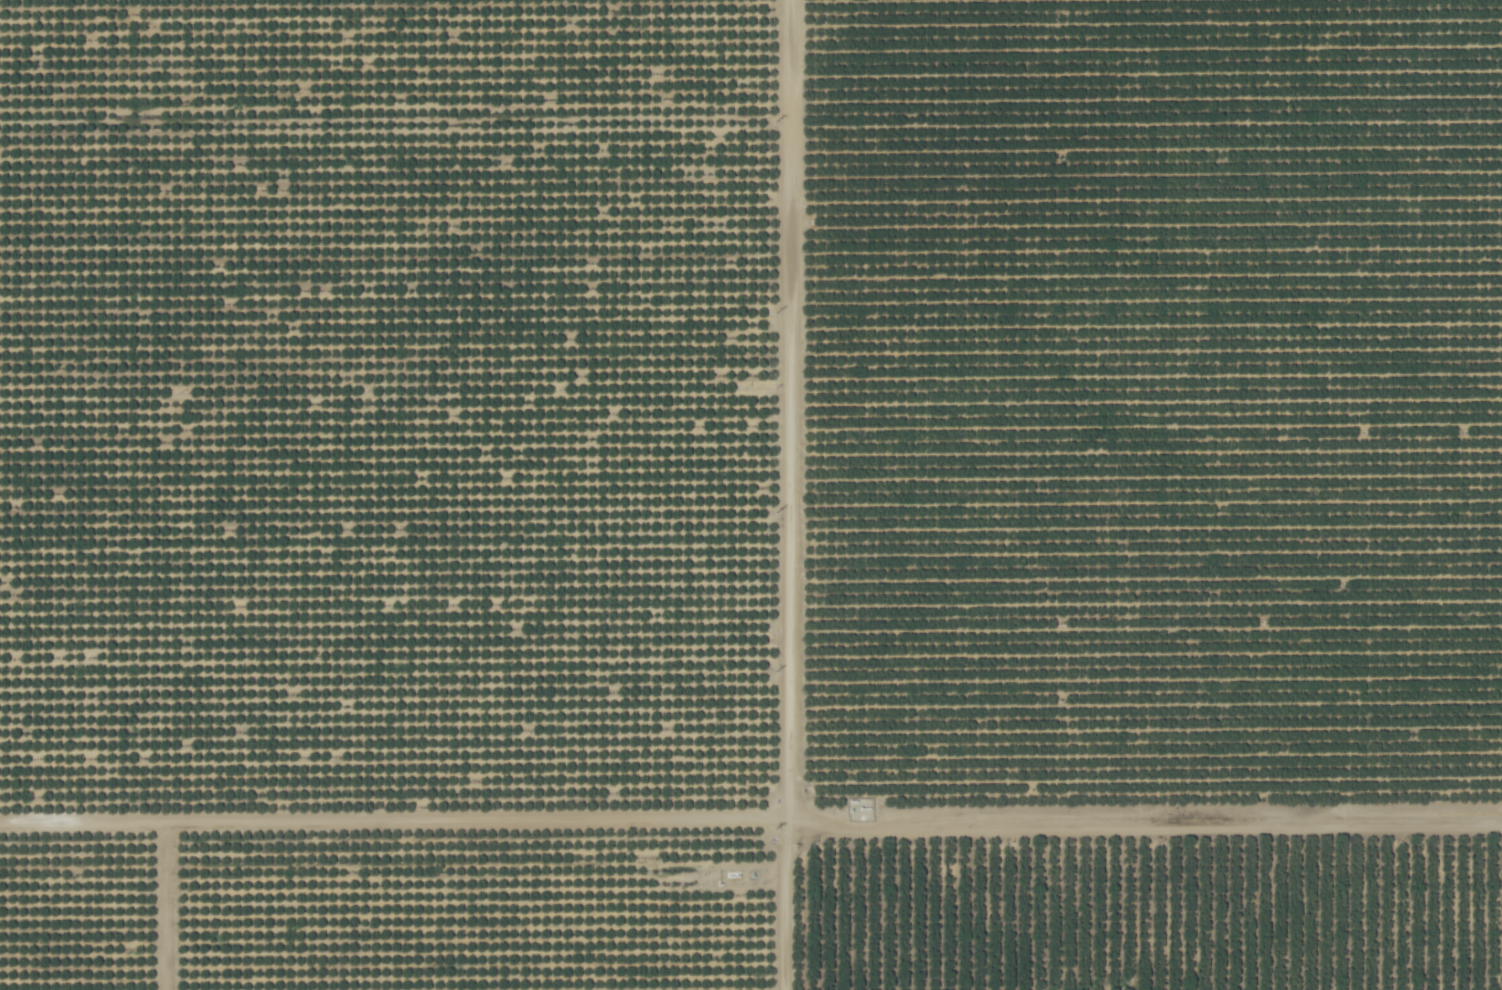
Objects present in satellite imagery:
road: (804, 494)
road: (751, 828)

